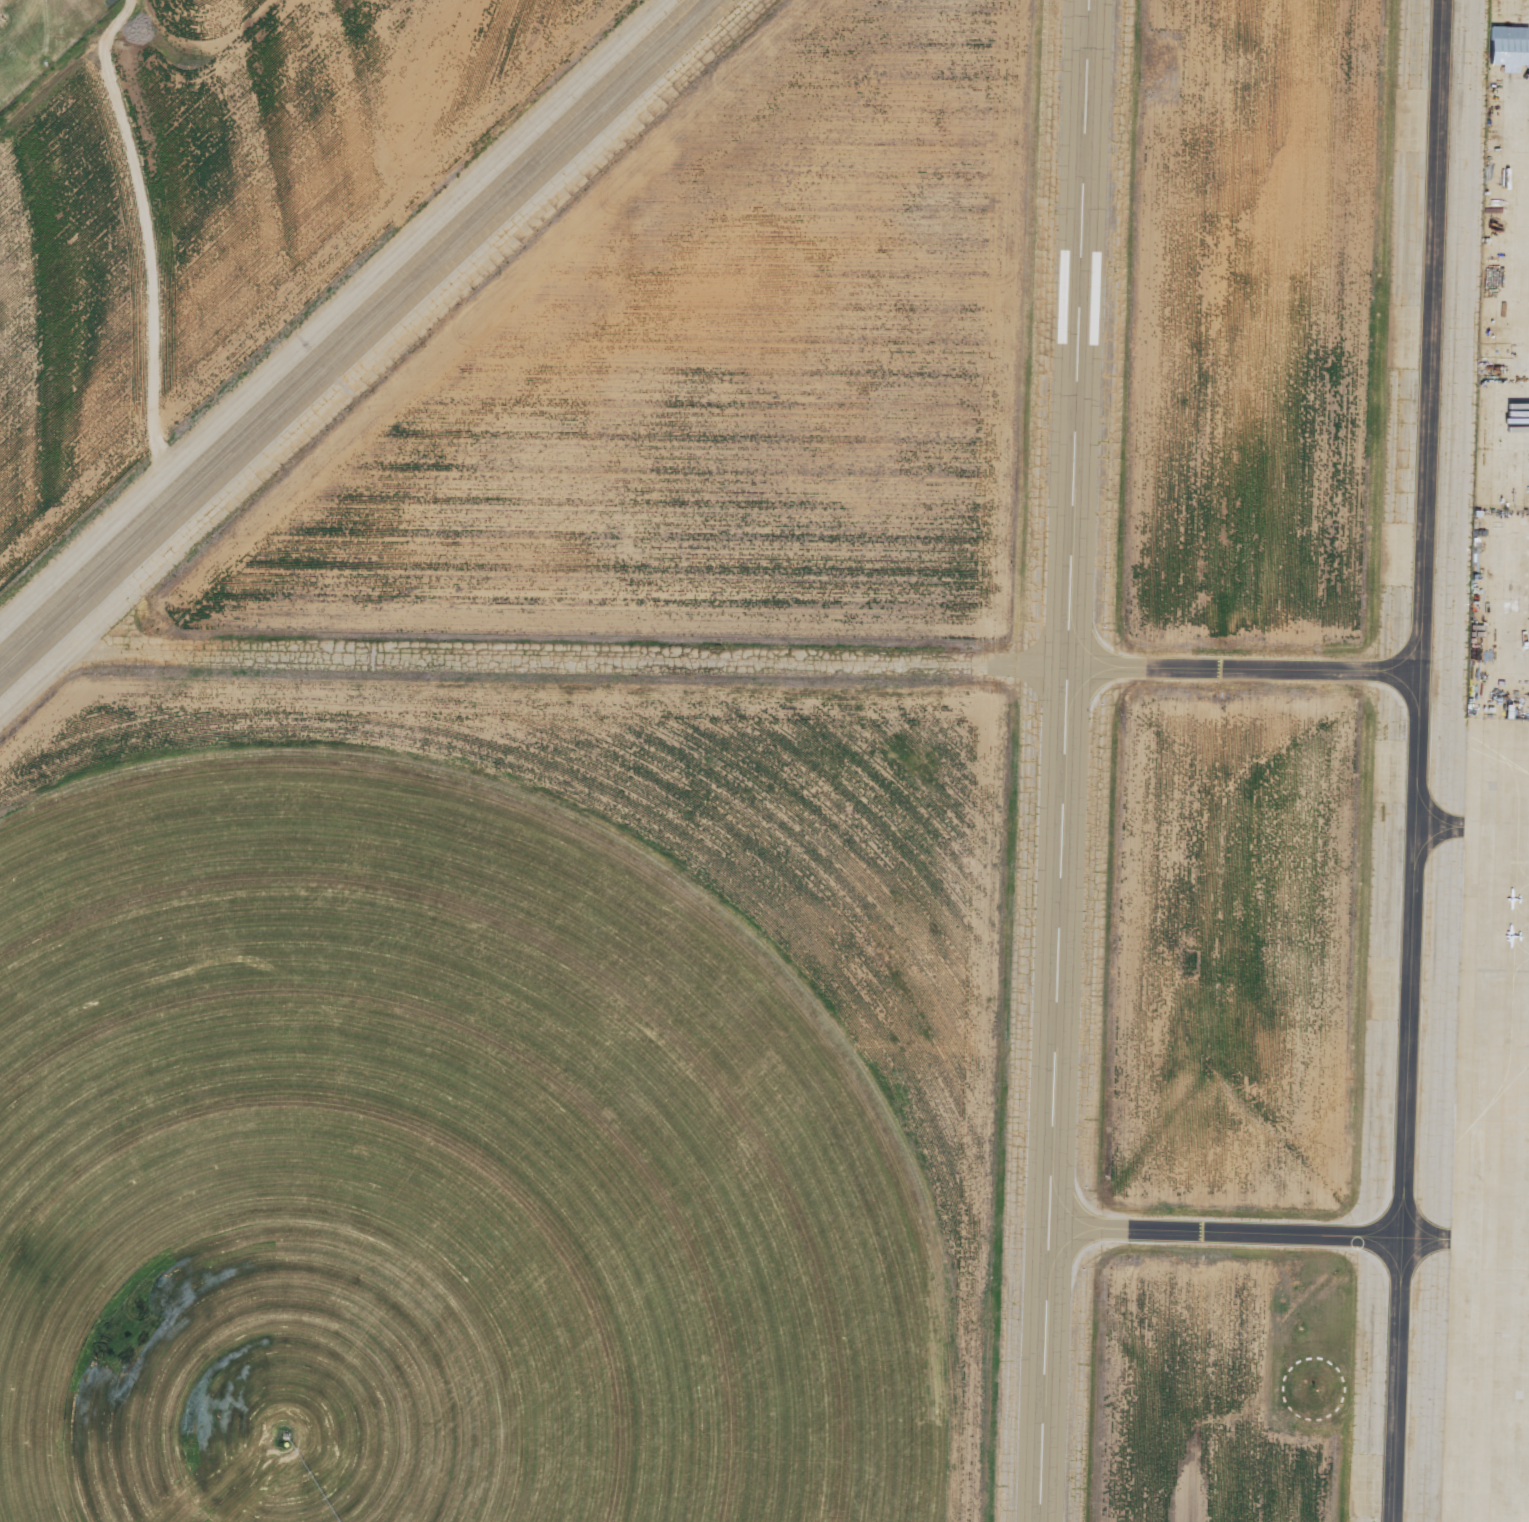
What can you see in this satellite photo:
building: (1510, 47)
airport runway: (351, 332)
airport taxiway: (716, 658)
airport: (764, 761)
airport runway: (1061, 761)
airport taxiway: (1408, 761)
airport apron: (1467, 809)
building: (1409, 1053)
crop: (437, 1174)
airport taxiway: (1220, 1232)

